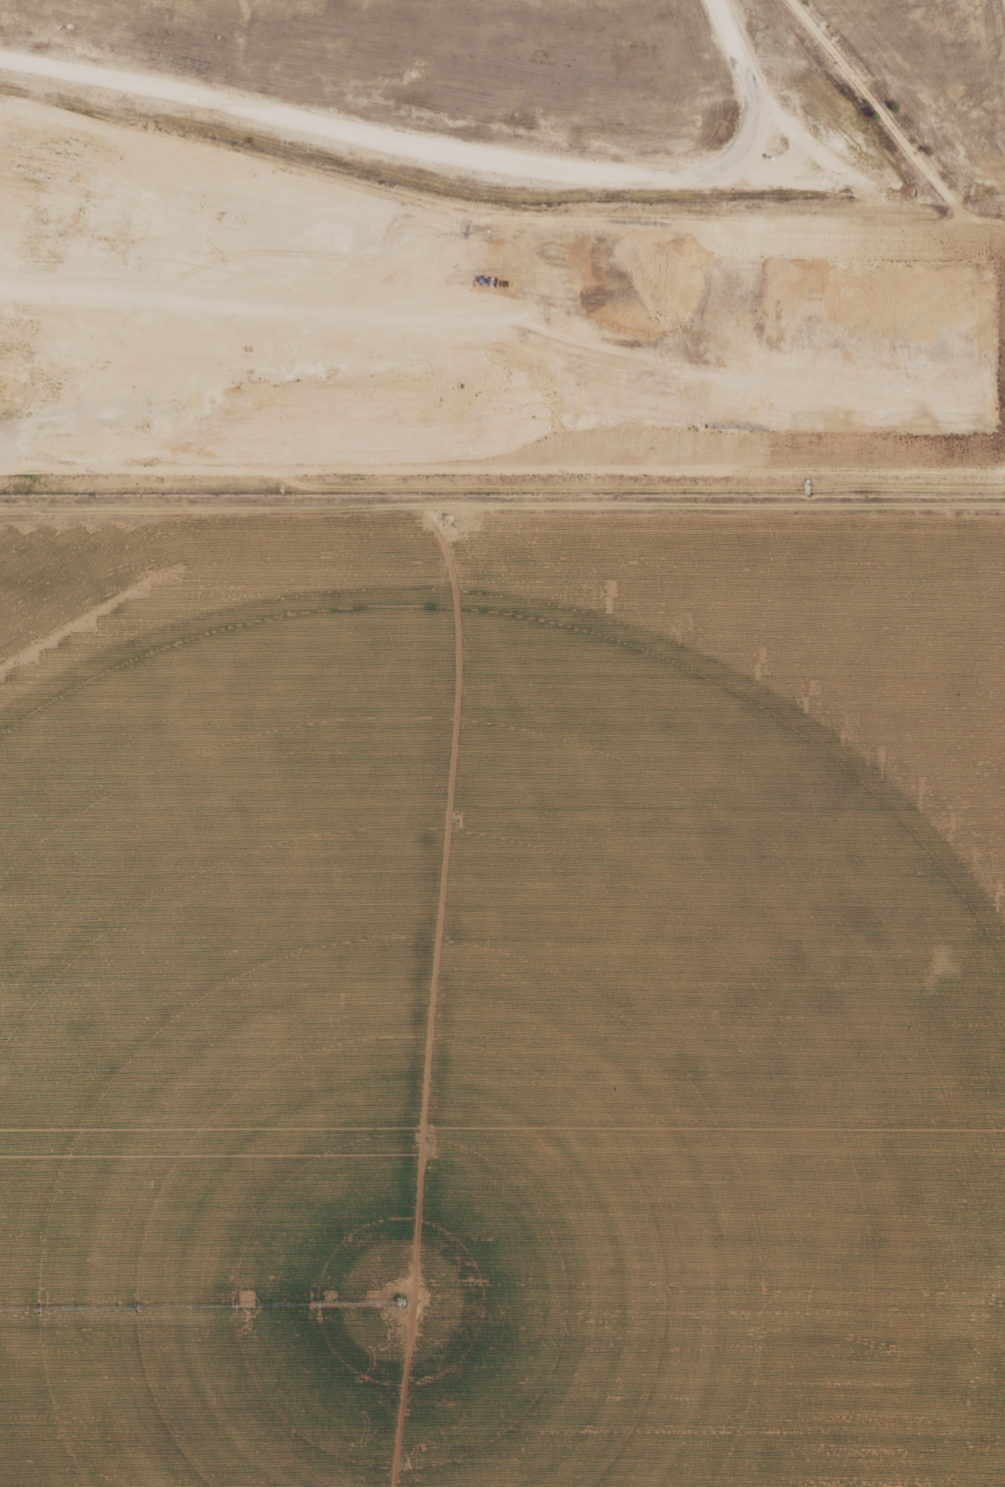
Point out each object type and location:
road: (1004, 2)
road: (890, 125)
road: (452, 148)
road: (475, 217)
landfill: (502, 243)
road: (226, 308)
road: (502, 470)
road: (502, 503)

